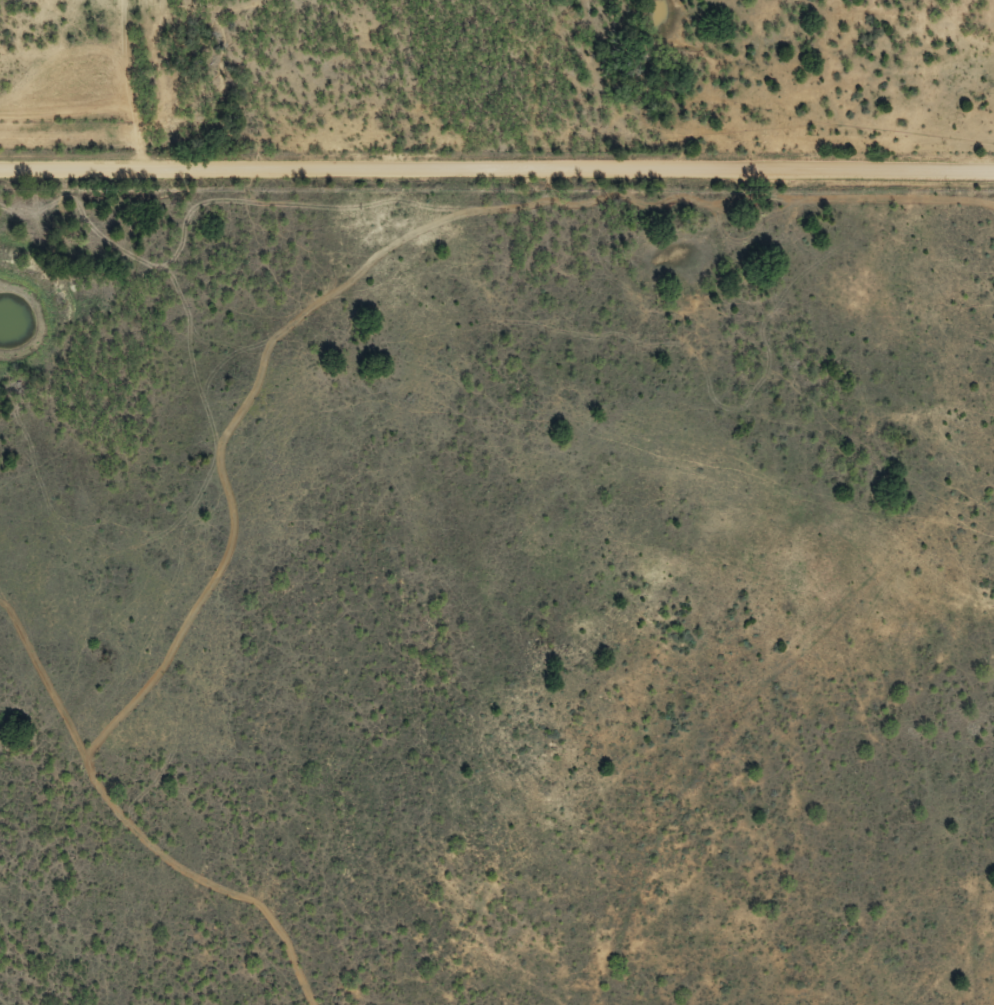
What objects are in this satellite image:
road: (497, 193)

